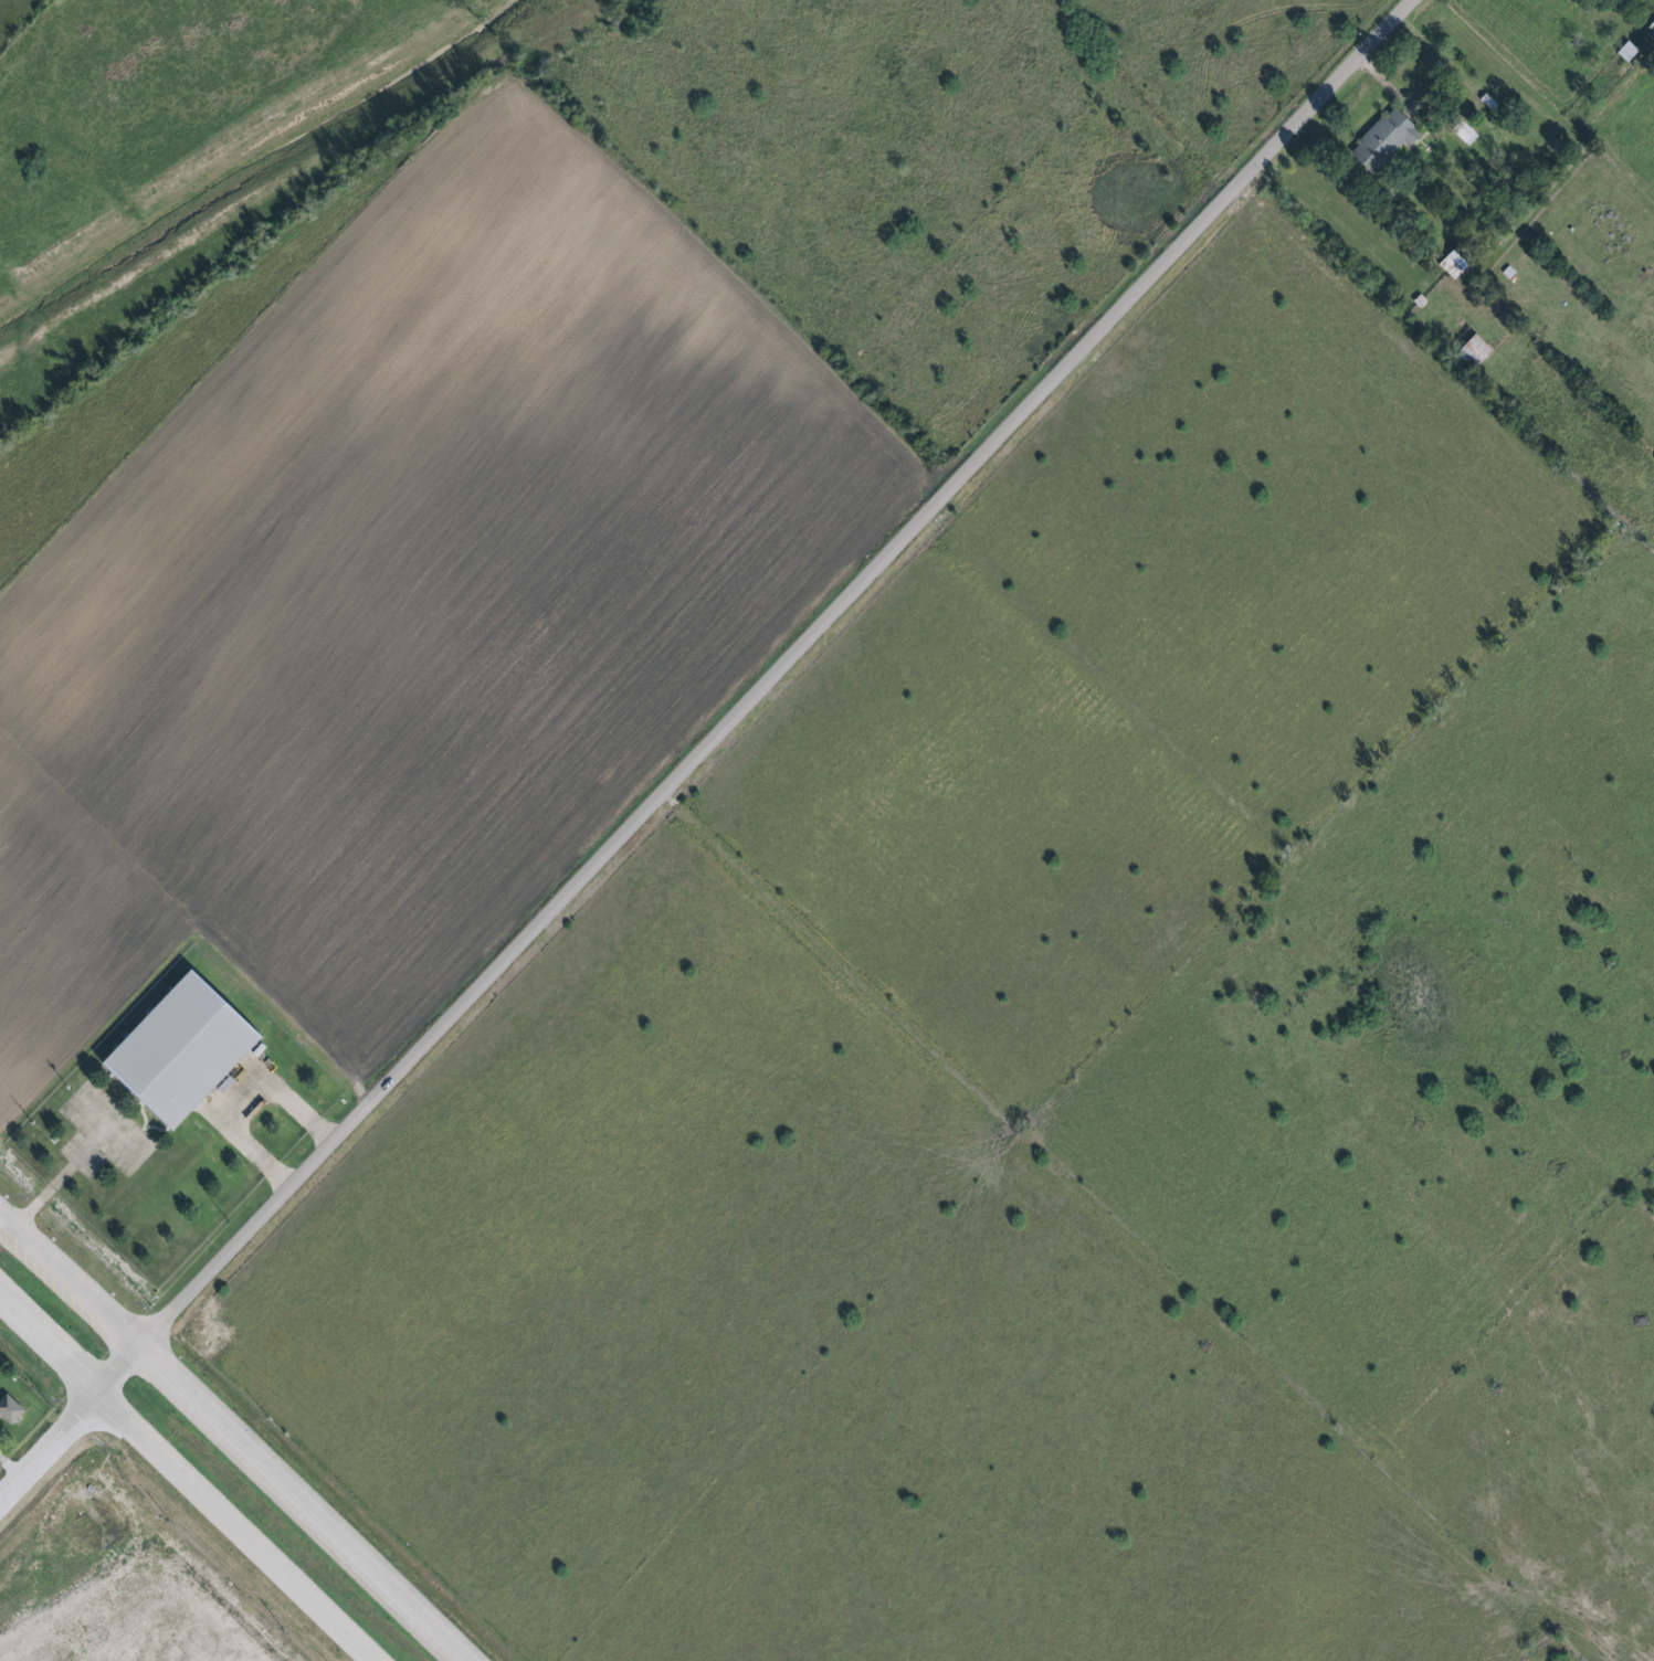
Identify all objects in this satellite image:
building: (1623, 52)
building: (1461, 134)
building: (1379, 141)
building: (1471, 350)
road: (706, 745)
building: (182, 1049)
road: (235, 1097)
road: (56, 1177)
building: (8, 1414)
road: (232, 1438)
road: (171, 1495)

